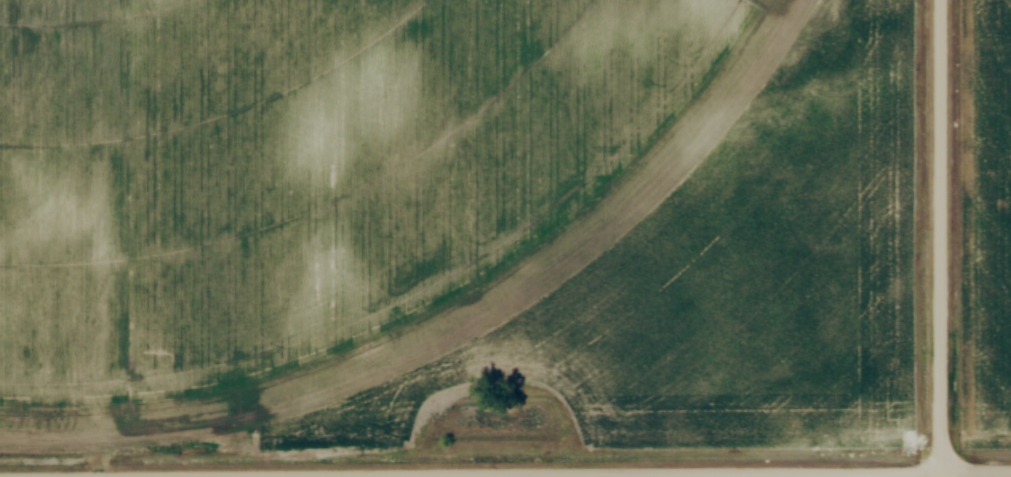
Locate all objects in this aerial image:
road: (940, 238)
road: (516, 473)

